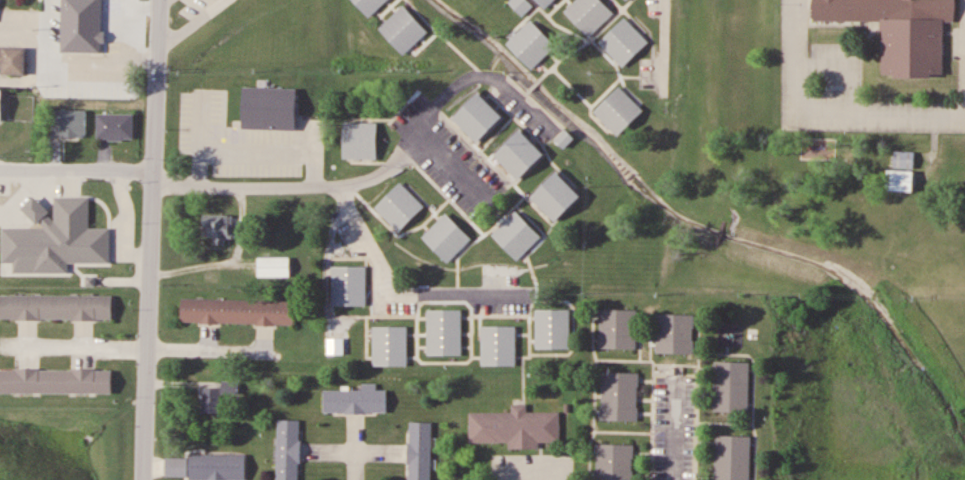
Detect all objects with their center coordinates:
building: (112, 0)
building: (627, 0)
building: (545, 3)
building: (369, 5)
building: (522, 5)
building: (589, 14)
building: (403, 29)
building: (900, 30)
building: (82, 36)
building: (623, 41)
building: (531, 43)
building: (12, 59)
building: (4, 106)
building: (619, 110)
road: (827, 111)
building: (478, 117)
building: (69, 124)
building: (115, 126)
building: (360, 140)
building: (243, 148)
building: (520, 154)
road: (444, 165)
road: (373, 169)
road: (76, 170)
building: (902, 172)
building: (556, 196)
building: (399, 206)
building: (219, 227)
building: (516, 235)
building: (446, 237)
road: (149, 239)
road: (368, 243)
building: (273, 266)
building: (349, 286)
building: (56, 307)
building: (237, 312)
building: (553, 328)
building: (618, 329)
building: (444, 331)
building: (675, 333)
building: (390, 345)
building: (499, 345)
building: (56, 381)
building: (732, 386)
building: (619, 396)
building: (221, 397)
building: (356, 401)
building: (516, 427)
road: (673, 432)
building: (288, 449)
building: (420, 450)
building: (733, 458)
building: (614, 462)
building: (217, 467)

